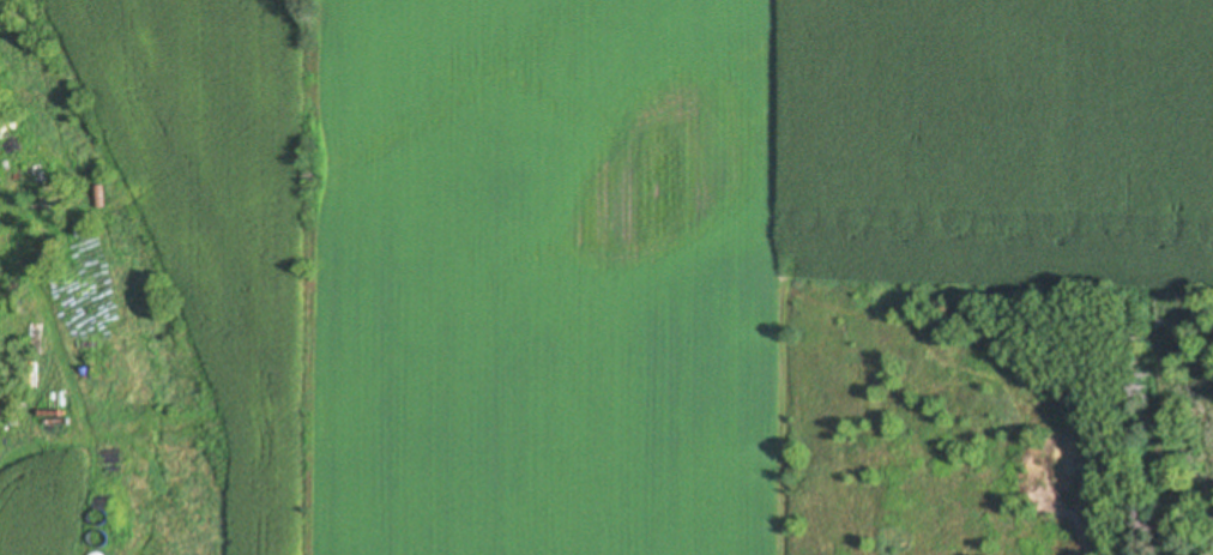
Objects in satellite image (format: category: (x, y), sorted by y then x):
crop: (623, 218)

